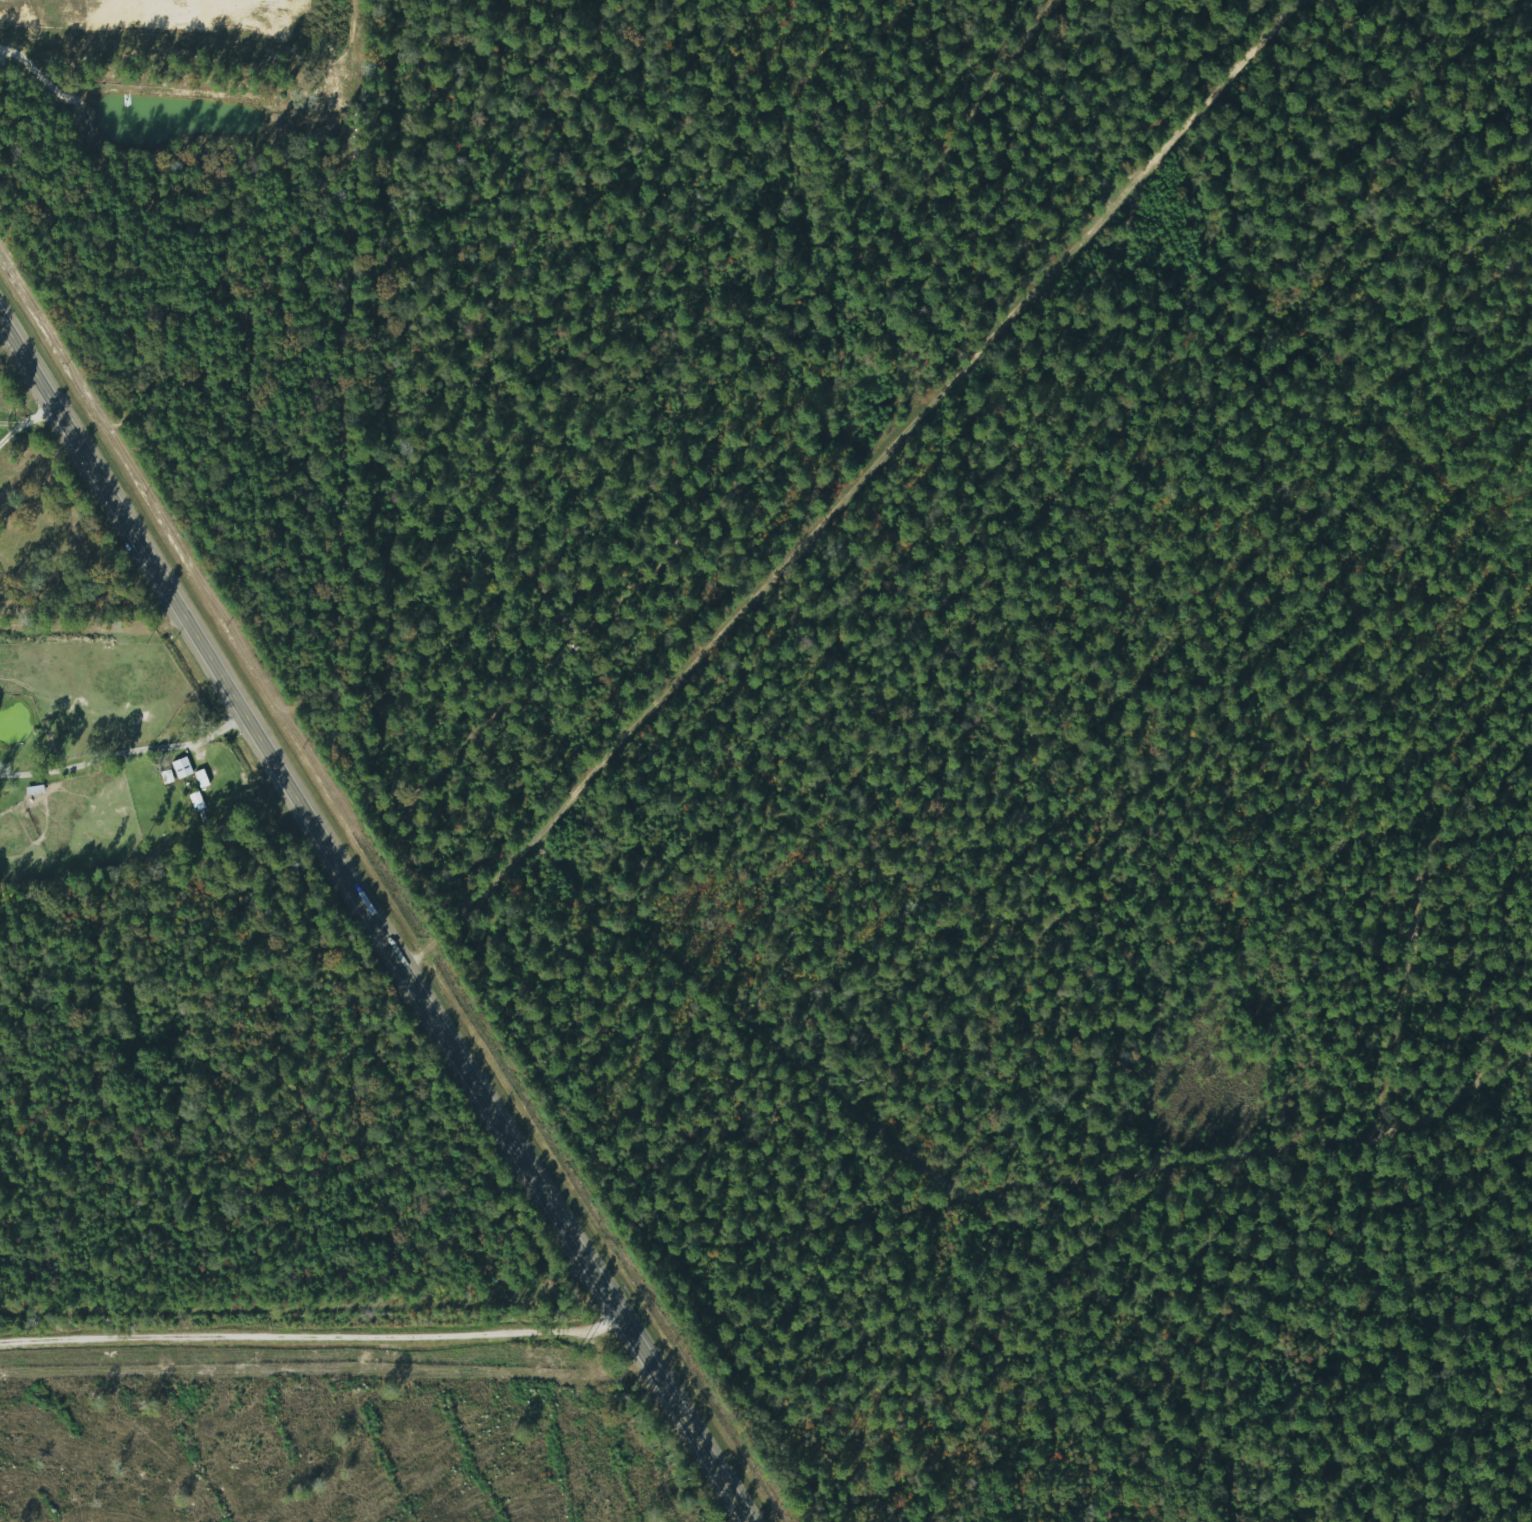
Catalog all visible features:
road: (45, 413)
road: (18, 418)
road: (17, 429)
road: (850, 488)
building: (182, 768)
road: (129, 774)
building: (202, 779)
road: (374, 924)

